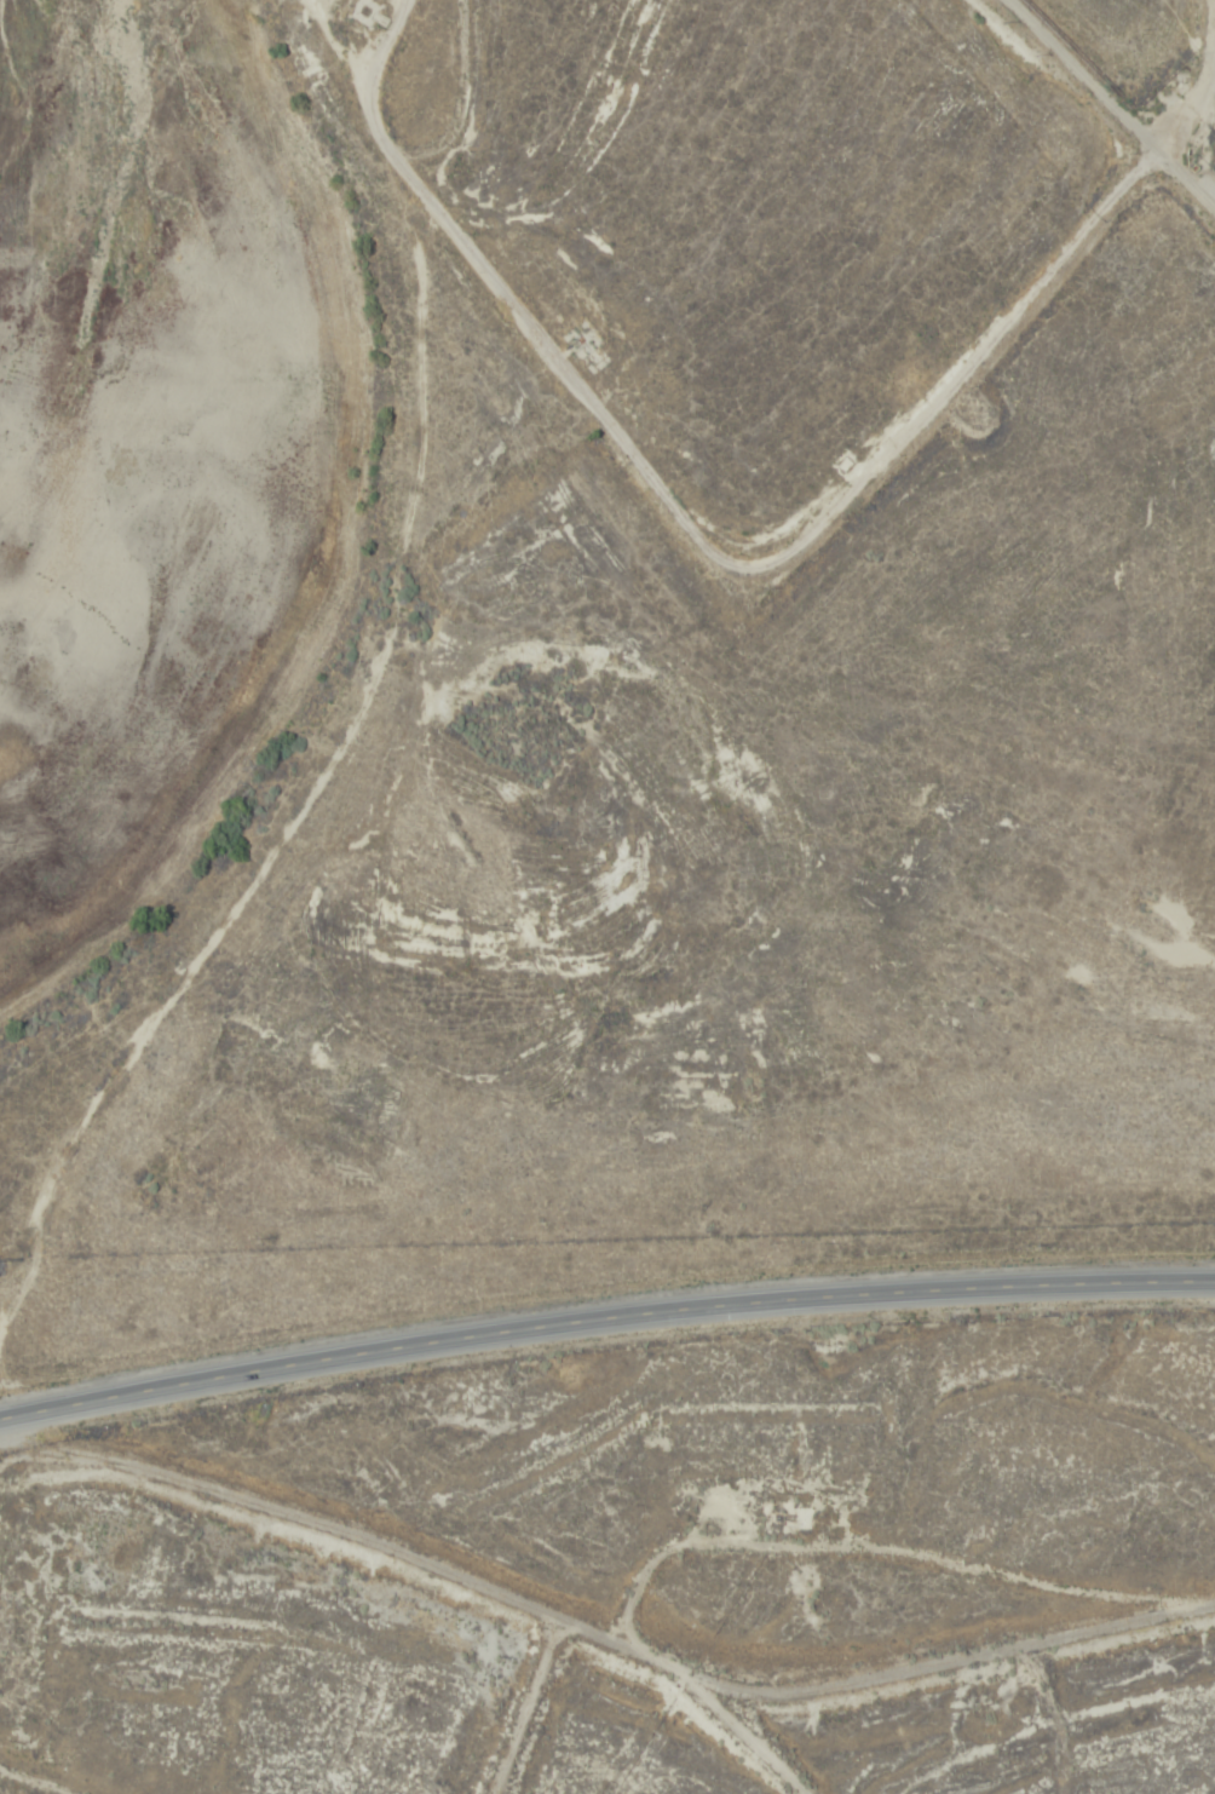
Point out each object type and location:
road: (1192, 82)
road: (1110, 111)
river: (120, 288)
road: (678, 511)
road: (604, 1319)
road: (12, 1493)
road: (607, 1628)
road: (539, 1702)
road: (753, 1743)

